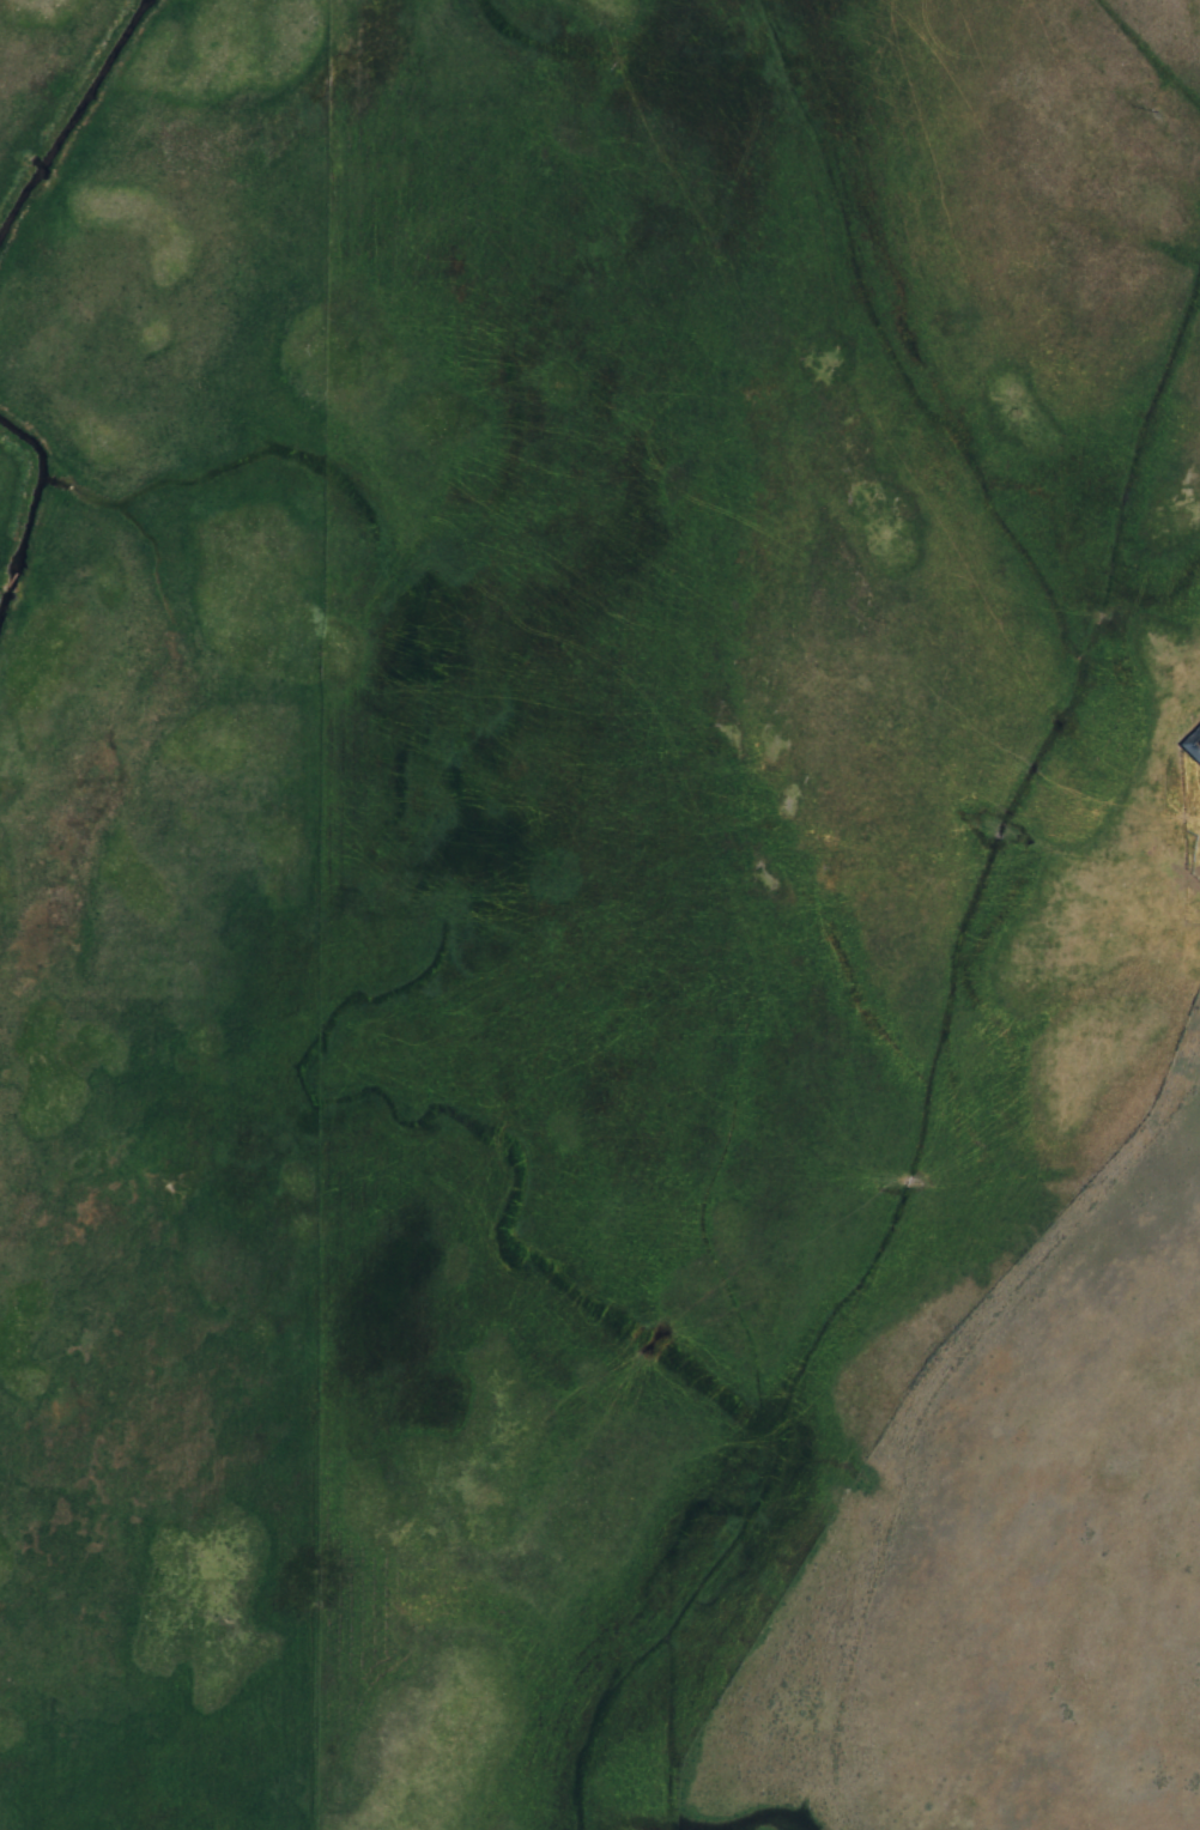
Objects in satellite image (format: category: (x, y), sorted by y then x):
crop: (29, 22)
road: (1183, 902)
crop: (599, 952)

